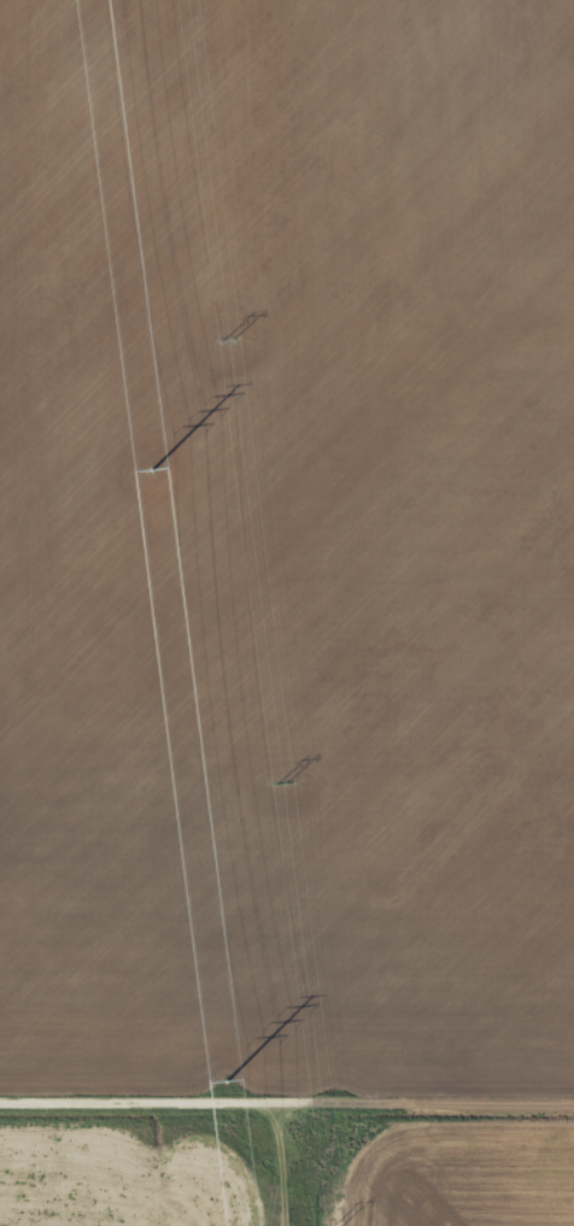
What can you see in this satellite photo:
power tower: (228, 339)
power tower: (152, 469)
power tower: (281, 782)
power tower: (228, 1081)
road: (287, 1096)
power tower: (334, 1224)

